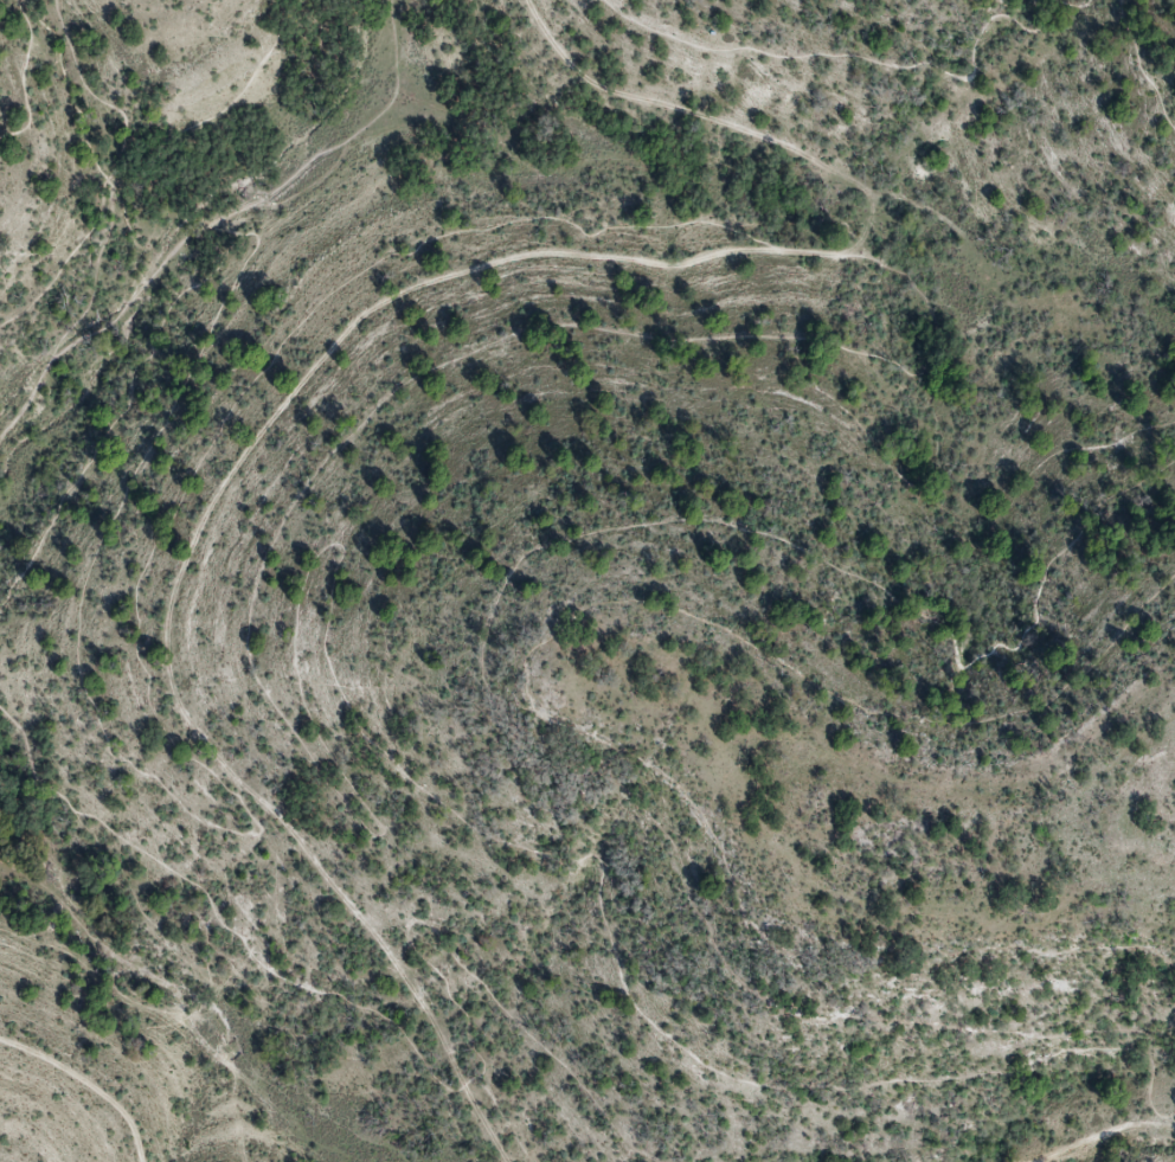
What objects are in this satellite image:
road: (1074, 6)
road: (858, 56)
road: (1139, 68)
road: (23, 77)
road: (120, 155)
road: (348, 332)
road: (840, 405)
road: (509, 655)
road: (218, 828)
road: (450, 951)
road: (185, 961)
road: (86, 1083)
road: (1105, 1137)

